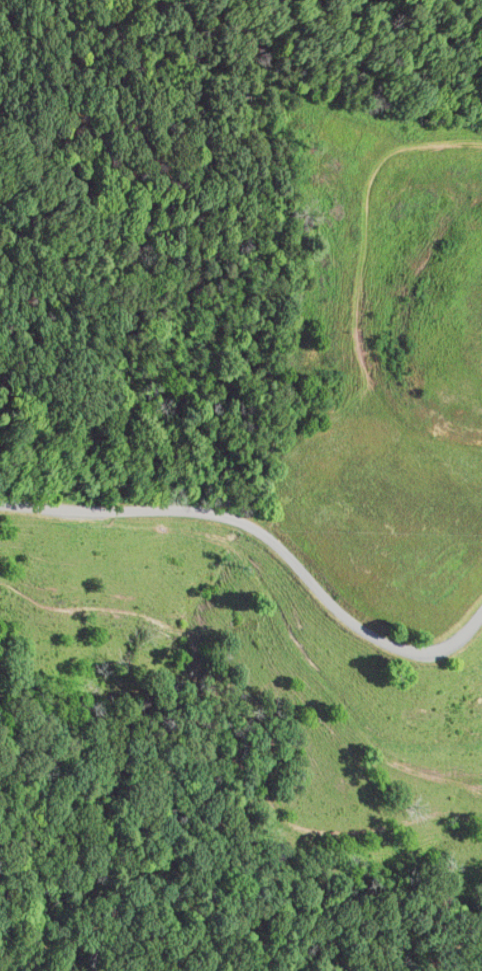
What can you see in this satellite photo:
road: (266, 539)

